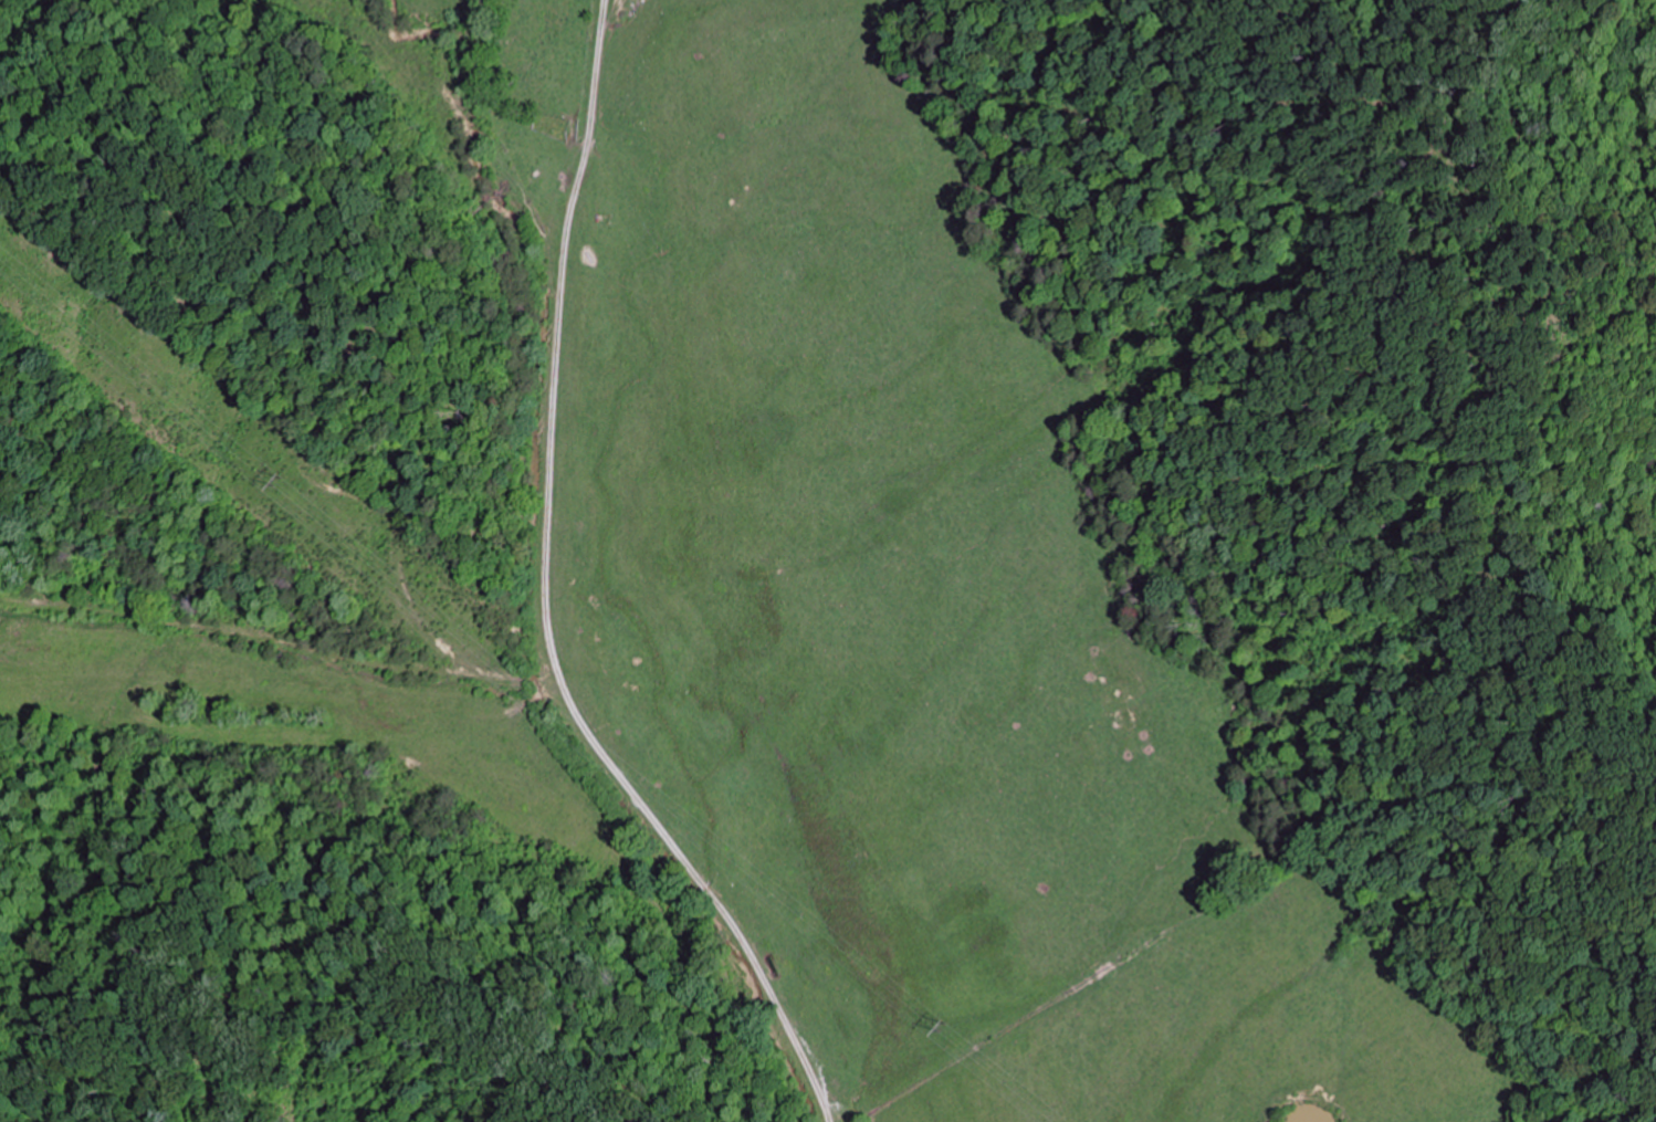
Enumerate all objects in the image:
road: (557, 579)

